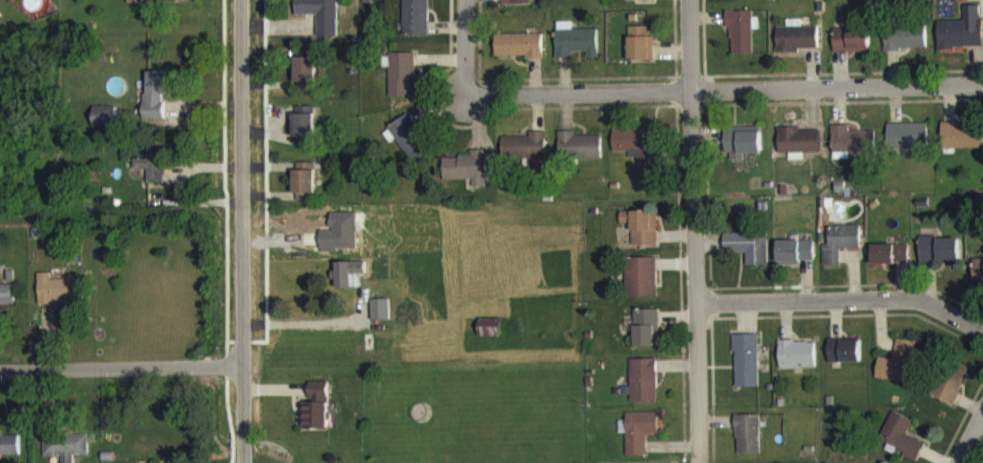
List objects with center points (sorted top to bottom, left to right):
building: (155, 4)
building: (636, 5)
building: (515, 7)
building: (321, 22)
building: (416, 24)
building: (962, 40)
building: (741, 41)
building: (796, 47)
building: (905, 49)
building: (851, 50)
road: (470, 51)
building: (576, 53)
building: (641, 53)
building: (519, 55)
building: (306, 84)
building: (402, 85)
road: (727, 96)
building: (154, 107)
building: (105, 126)
building: (304, 135)
building: (961, 145)
building: (908, 146)
building: (408, 148)
building: (851, 150)
building: (742, 152)
building: (799, 152)
building: (634, 155)
building: (579, 156)
building: (527, 158)
building: (153, 175)
building: (467, 178)
building: (305, 192)
road: (687, 220)
road: (243, 231)
building: (641, 236)
building: (840, 252)
building: (748, 257)
building: (939, 260)
building: (795, 261)
building: (890, 264)
building: (978, 280)
building: (350, 283)
building: (641, 287)
building: (58, 300)
building: (6, 305)
road: (846, 305)
road: (305, 322)
building: (490, 337)
building: (646, 338)
building: (844, 361)
building: (797, 364)
road: (120, 367)
building: (746, 371)
building: (899, 373)
building: (643, 390)
building: (952, 393)
building: (317, 417)
road: (969, 426)
building: (640, 440)
building: (748, 444)
building: (901, 445)
building: (9, 453)
building: (65, 453)

